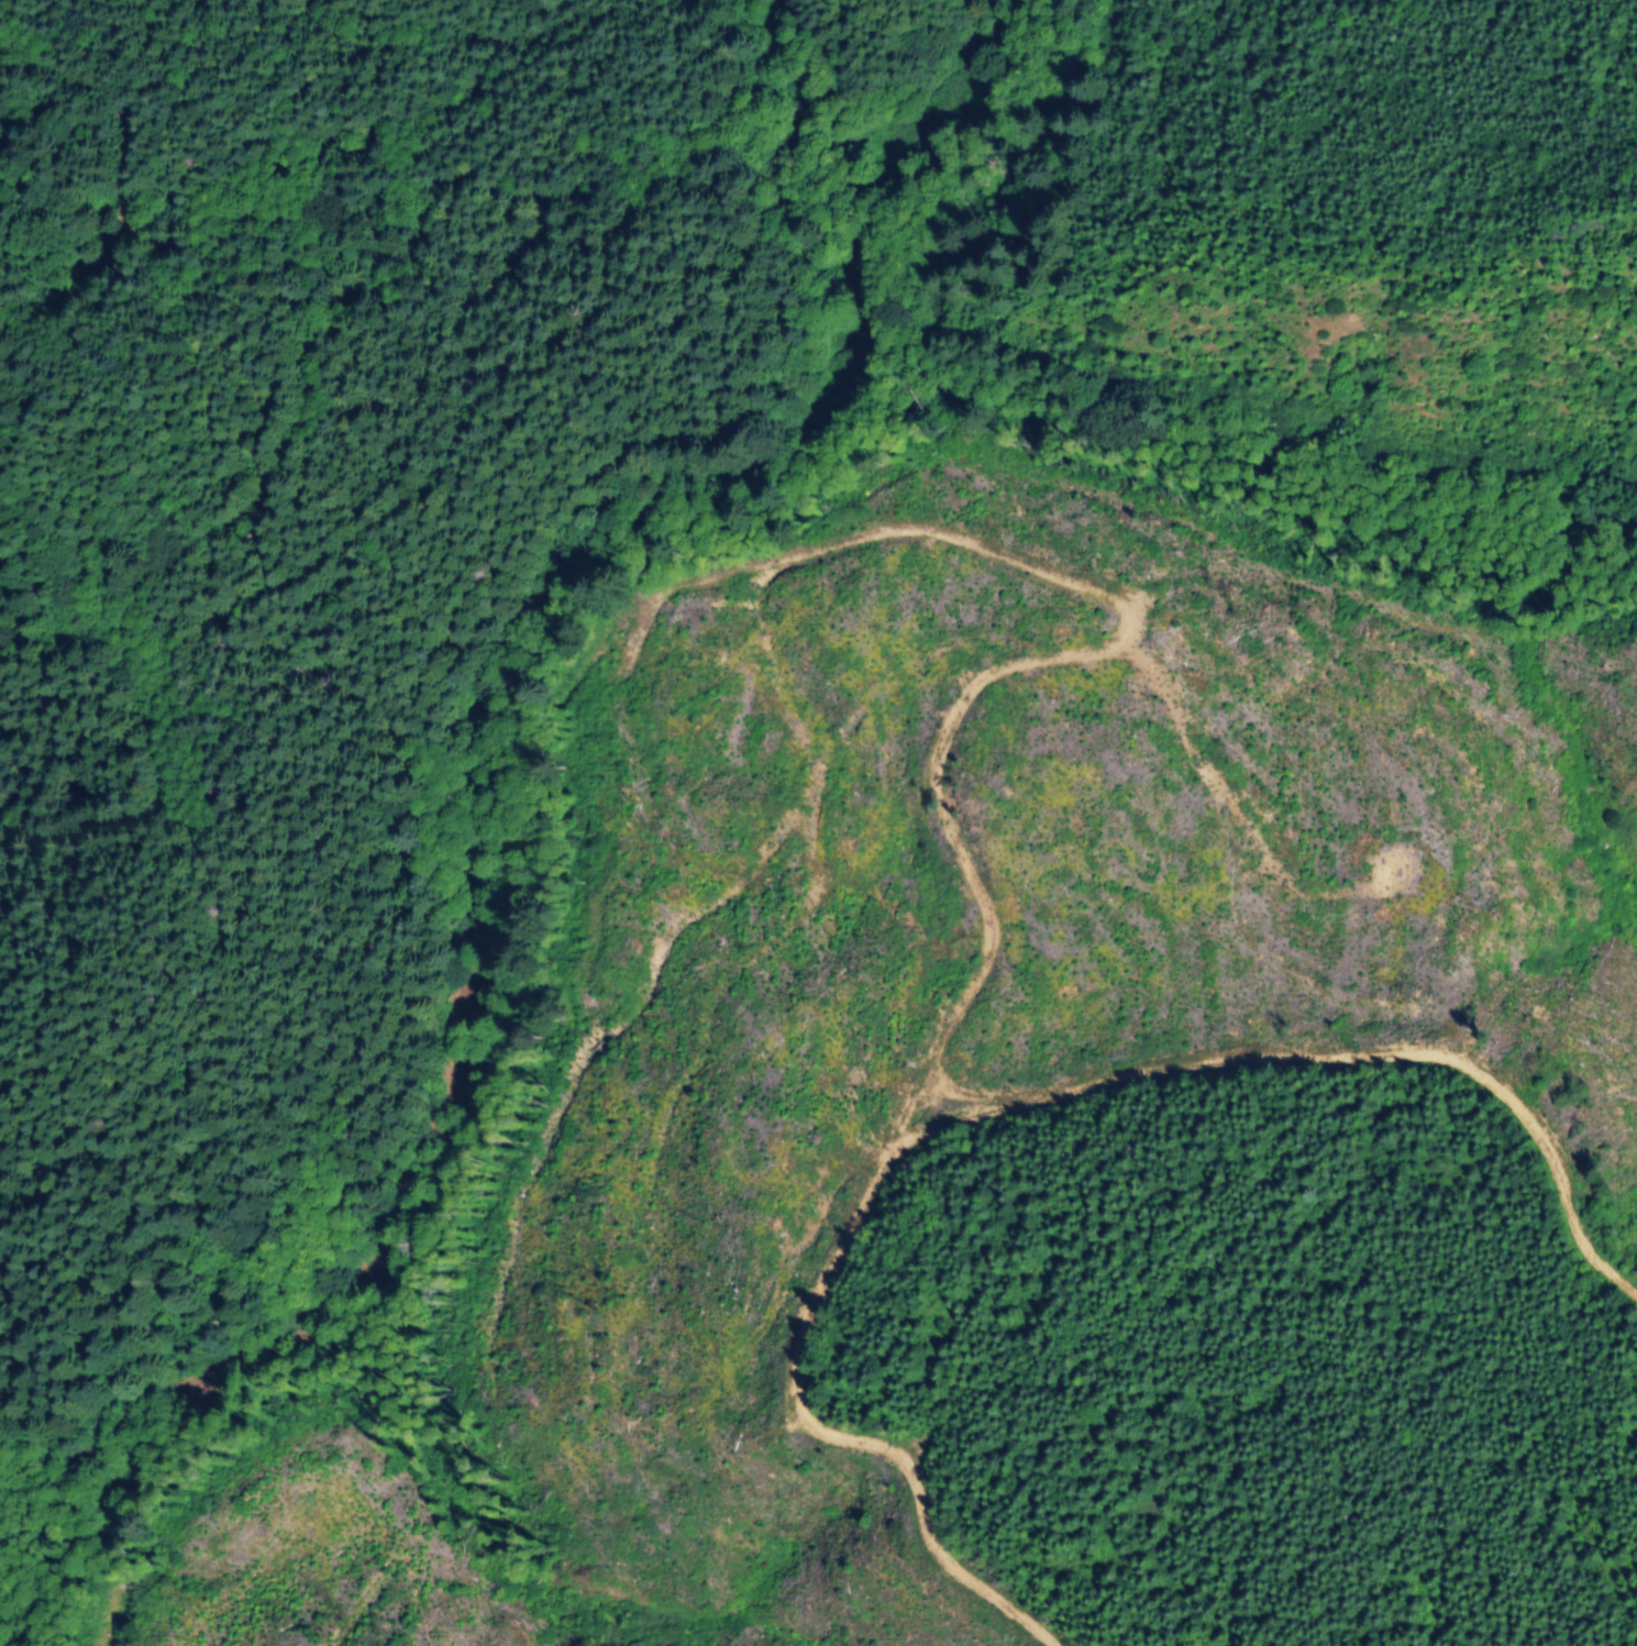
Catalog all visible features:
road: (672, 497)
road: (113, 1553)

